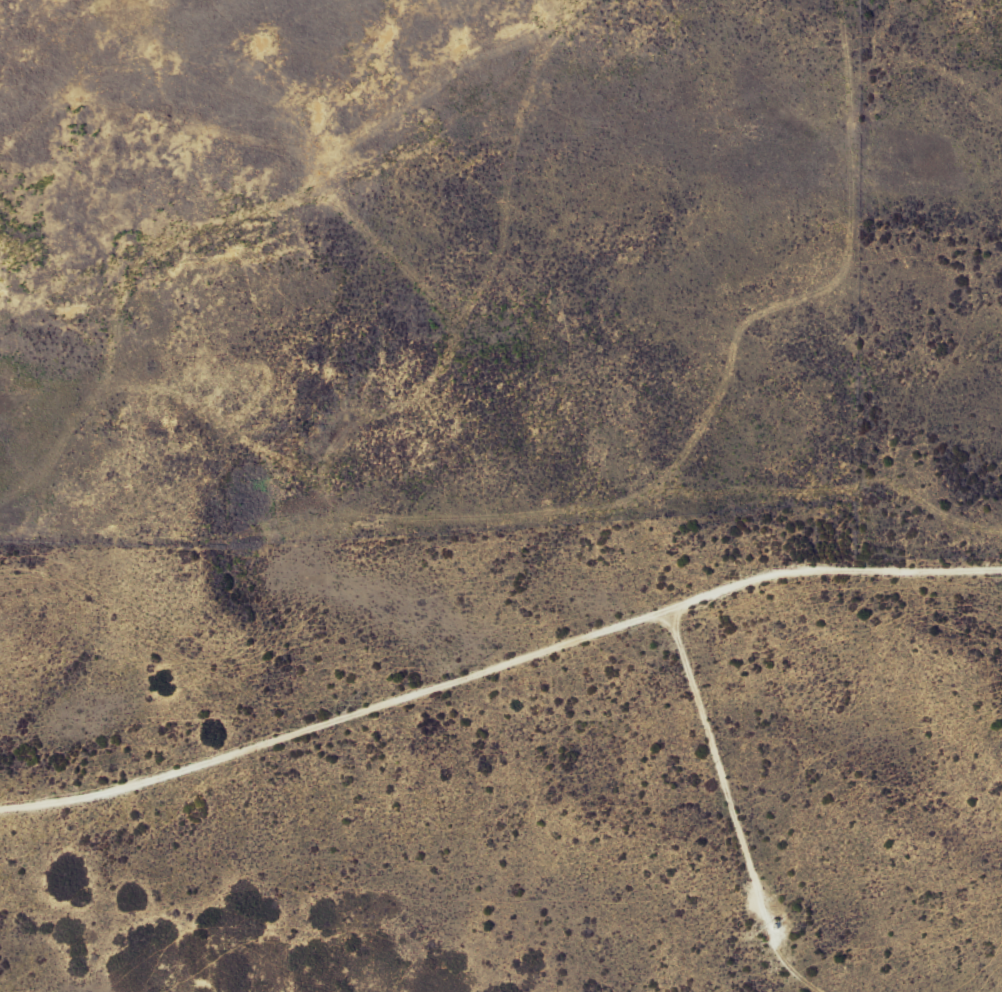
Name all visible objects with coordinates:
road: (497, 666)

